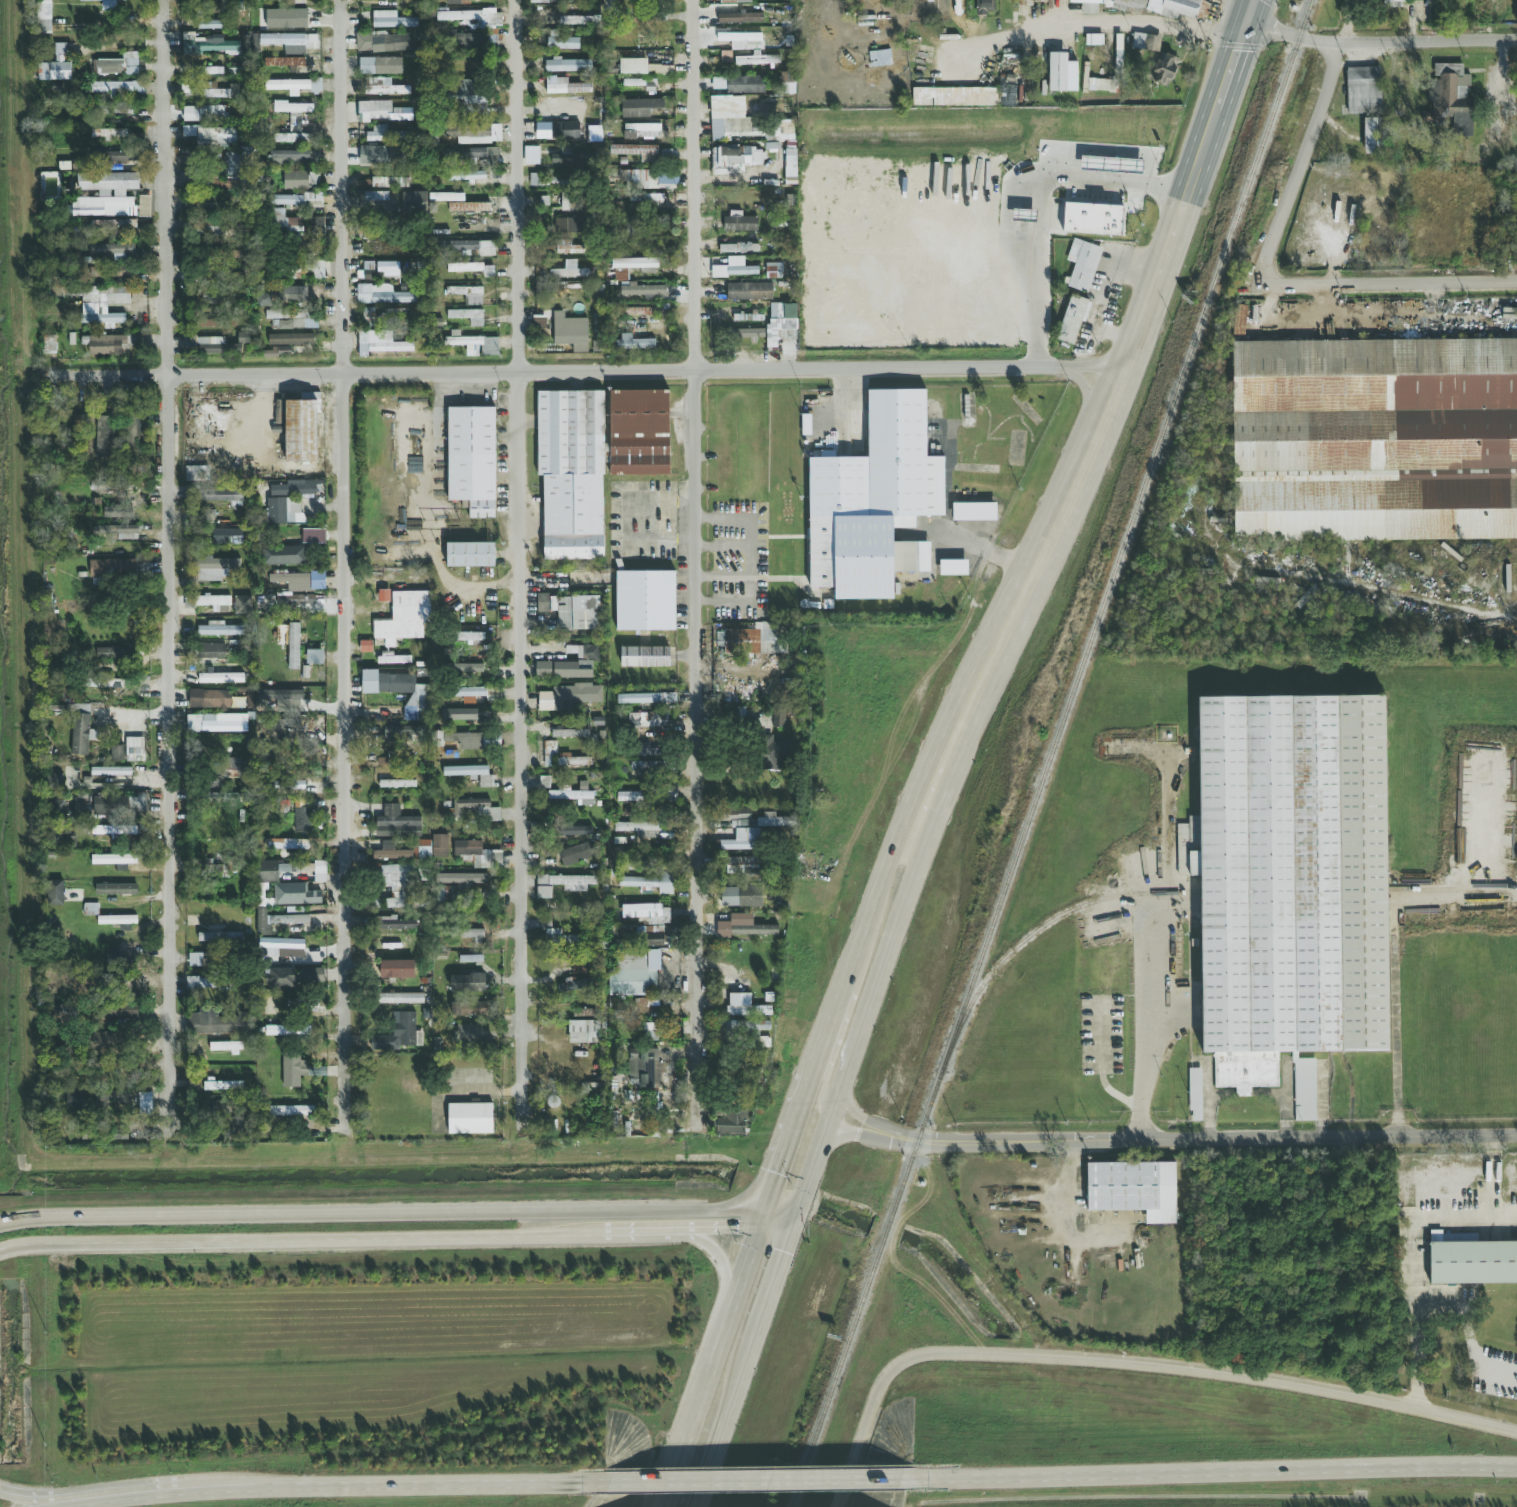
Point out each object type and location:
building: (554, 1)
building: (736, 1)
building: (1040, 1)
building: (457, 2)
building: (1394, 2)
building: (608, 3)
building: (1025, 3)
building: (107, 4)
building: (1088, 6)
building: (986, 7)
building: (1179, 8)
road: (1251, 10)
building: (44, 17)
building: (473, 18)
building: (741, 18)
building: (286, 19)
building: (392, 20)
traffic signals: (1248, 20)
building: (579, 21)
road: (1076, 23)
building: (209, 25)
road: (1222, 32)
building: (468, 41)
building: (742, 41)
building: (291, 42)
building: (383, 42)
building: (1146, 42)
building: (563, 43)
building: (208, 46)
road: (1379, 52)
building: (758, 59)
building: (284, 62)
building: (56, 65)
building: (117, 65)
building: (568, 65)
building: (380, 66)
building: (633, 66)
building: (657, 69)
building: (1162, 69)
road: (1229, 71)
building: (1062, 74)
building: (639, 83)
building: (745, 85)
building: (293, 86)
building: (565, 86)
building: (787, 86)
building: (384, 87)
building: (117, 88)
building: (1363, 90)
building: (208, 91)
building: (471, 94)
building: (954, 97)
building: (1452, 97)
building: (640, 108)
building: (383, 112)
building: (204, 113)
building: (294, 113)
building: (732, 128)
building: (557, 131)
building: (642, 131)
building: (113, 133)
building: (450, 133)
building: (199, 134)
building: (479, 134)
building: (386, 135)
building: (226, 136)
building: (1374, 136)
road: (1310, 143)
building: (633, 150)
building: (382, 155)
building: (469, 155)
building: (531, 155)
building: (120, 157)
building: (291, 157)
building: (571, 158)
building: (648, 159)
building: (732, 160)
building: (790, 163)
building: (235, 171)
building: (466, 176)
building: (300, 180)
building: (550, 181)
building: (388, 182)
building: (106, 195)
building: (376, 196)
building: (297, 200)
building: (568, 201)
building: (415, 202)
building: (459, 203)
building: (144, 207)
road: (1041, 208)
building: (1093, 220)
building: (739, 223)
building: (569, 225)
building: (315, 226)
building: (468, 248)
building: (569, 248)
building: (738, 248)
building: (113, 250)
building: (1083, 265)
building: (630, 266)
building: (734, 268)
building: (473, 269)
building: (368, 270)
building: (393, 270)
building: (118, 271)
building: (569, 271)
building: (773, 271)
road: (1389, 286)
building: (640, 290)
building: (455, 291)
building: (749, 292)
building: (299, 294)
building: (384, 295)
building: (475, 296)
building: (99, 303)
building: (641, 312)
building: (395, 315)
building: (468, 316)
building: (368, 317)
building: (1073, 319)
building: (1239, 320)
building: (781, 324)
building: (570, 333)
building: (747, 333)
building: (244, 338)
building: (291, 339)
building: (634, 342)
building: (380, 343)
building: (109, 344)
building: (476, 344)
building: (204, 345)
road: (1097, 365)
road: (560, 373)
road: (1090, 400)
road: (848, 403)
building: (806, 425)
building: (301, 430)
building: (639, 433)
building: (104, 437)
building: (1374, 440)
building: (472, 459)
building: (196, 474)
building: (571, 474)
road: (1075, 479)
building: (110, 486)
building: (295, 489)
building: (220, 497)
building: (874, 501)
building: (284, 511)
building: (974, 512)
building: (121, 532)
building: (227, 536)
building: (314, 536)
road: (722, 545)
road: (986, 547)
building: (470, 555)
building: (284, 556)
road: (751, 559)
road: (165, 567)
road: (516, 567)
road: (693, 567)
building: (112, 568)
building: (143, 568)
building: (216, 568)
building: (953, 568)
road: (343, 571)
road: (722, 576)
building: (300, 580)
building: (384, 596)
building: (645, 601)
building: (214, 602)
building: (298, 602)
building: (243, 605)
building: (571, 611)
building: (404, 618)
building: (547, 621)
building: (219, 629)
building: (471, 637)
building: (753, 639)
building: (293, 646)
building: (211, 651)
building: (587, 652)
building: (114, 653)
building: (314, 657)
building: (645, 657)
building: (392, 658)
building: (469, 667)
building: (564, 670)
building: (221, 678)
building: (369, 681)
building: (107, 682)
building: (470, 693)
building: (279, 695)
building: (409, 695)
building: (567, 696)
building: (646, 698)
building: (209, 699)
building: (459, 715)
building: (779, 719)
building: (648, 720)
building: (216, 723)
building: (403, 734)
building: (570, 734)
building: (82, 735)
building: (476, 741)
building: (134, 749)
building: (644, 750)
building: (117, 752)
building: (549, 752)
building: (772, 753)
railway: (1049, 753)
building: (389, 760)
building: (573, 761)
building: (111, 771)
building: (226, 771)
building: (470, 774)
building: (54, 780)
building: (544, 783)
building: (397, 784)
building: (671, 794)
building: (573, 795)
building: (630, 796)
building: (224, 798)
building: (119, 805)
building: (488, 814)
building: (303, 820)
building: (397, 824)
building: (113, 829)
building: (646, 829)
building: (575, 830)
building: (750, 831)
road: (903, 840)
building: (287, 844)
building: (439, 846)
road: (917, 846)
building: (423, 849)
building: (390, 852)
building: (579, 854)
building: (479, 855)
building: (114, 859)
building: (742, 866)
building: (219, 867)
building: (268, 871)
building: (320, 871)
building: (461, 879)
building: (648, 882)
road: (879, 883)
building: (396, 884)
building: (563, 884)
building: (1289, 885)
building: (116, 889)
building: (55, 893)
building: (295, 894)
building: (443, 894)
building: (264, 897)
building: (743, 898)
road: (1459, 900)
building: (91, 909)
building: (648, 913)
building: (280, 919)
building: (117, 920)
building: (395, 924)
building: (743, 927)
railway: (1033, 931)
road: (1162, 932)
building: (472, 935)
building: (653, 936)
building: (219, 937)
building: (561, 938)
building: (281, 948)
road: (855, 951)
building: (119, 956)
building: (200, 961)
building: (582, 967)
building: (396, 969)
building: (631, 974)
building: (293, 977)
road: (879, 977)
building: (203, 982)
building: (467, 983)
building: (575, 988)
building: (400, 999)
building: (745, 1006)
building: (470, 1009)
building: (120, 1010)
building: (65, 1015)
road: (830, 1020)
building: (216, 1023)
building: (650, 1030)
building: (287, 1031)
building: (587, 1032)
building: (468, 1033)
building: (399, 1034)
building: (101, 1040)
building: (226, 1047)
road: (823, 1061)
road: (814, 1064)
building: (644, 1068)
building: (298, 1070)
road: (1103, 1080)
building: (223, 1086)
building: (1195, 1095)
building: (122, 1098)
road: (821, 1098)
building: (145, 1100)
building: (73, 1101)
road: (834, 1106)
building: (290, 1111)
road: (854, 1114)
building: (470, 1119)
building: (732, 1122)
building: (236, 1126)
road: (851, 1133)
road: (1196, 1141)
road: (784, 1144)
road: (808, 1176)
traffic signals: (772, 1180)
building: (1133, 1189)
road: (395, 1215)
road: (1450, 1215)
road: (735, 1230)
traffic signals: (738, 1230)
road: (1071, 1230)
road: (641, 1232)
road: (299, 1239)
traffic signals: (780, 1253)
building: (1473, 1263)
road: (722, 1264)
road: (772, 1277)
road: (1415, 1331)
road: (712, 1359)
road: (1130, 1363)
road: (725, 1417)
road: (1213, 1472)
road: (756, 1481)
road: (444, 1486)
road: (259, 1488)
road: (160, 1490)
road: (19, 1495)
road: (62, 1497)
road: (70, 1502)

